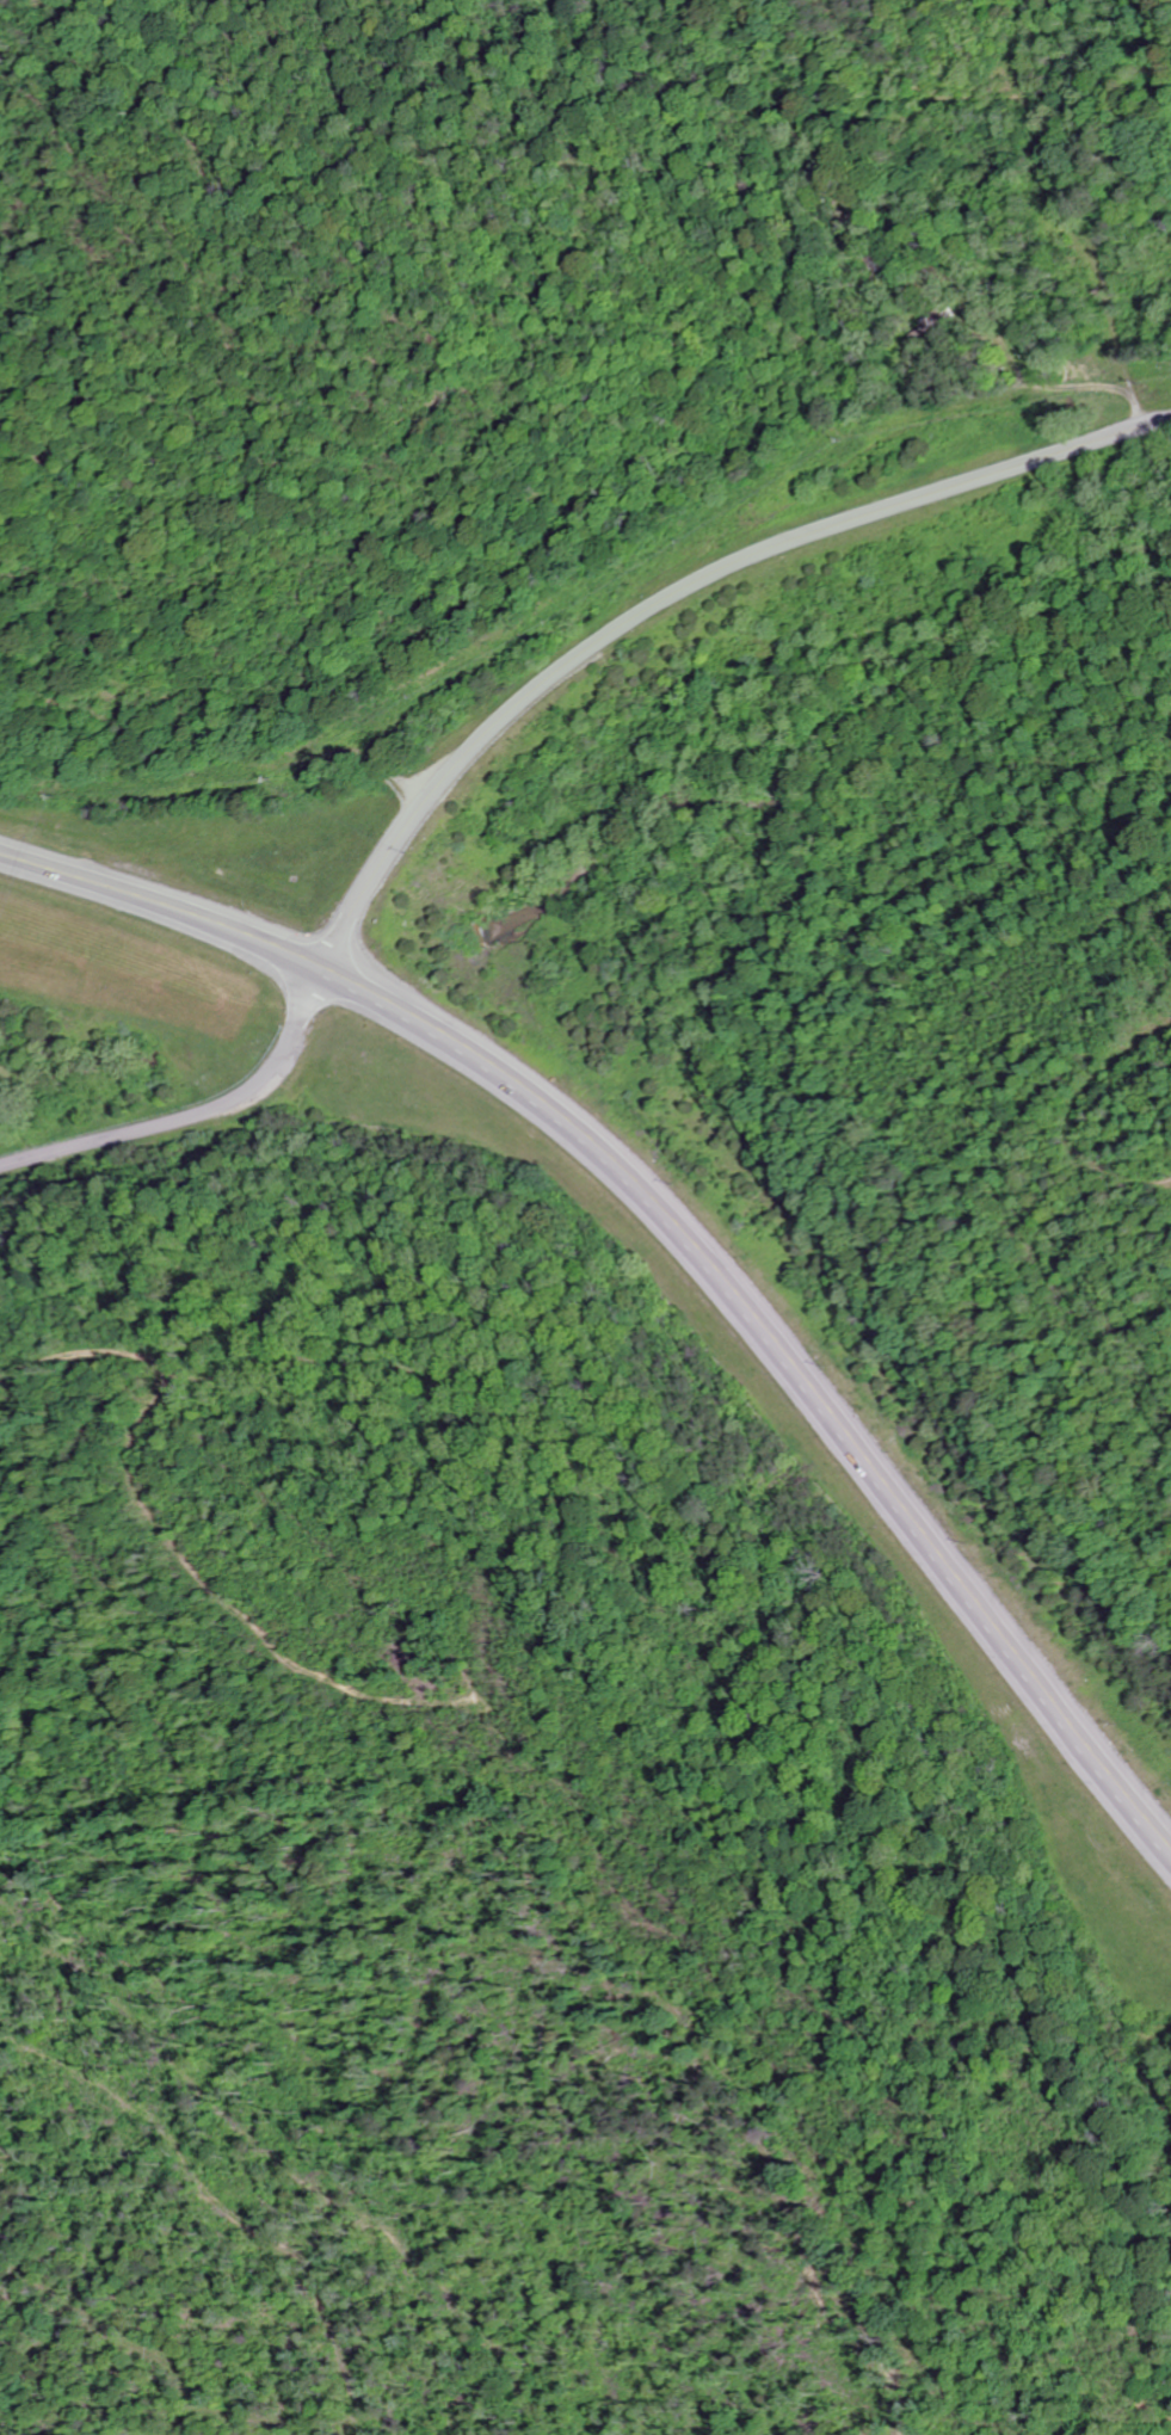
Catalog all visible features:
road: (678, 591)
road: (198, 1116)
road: (680, 1221)

